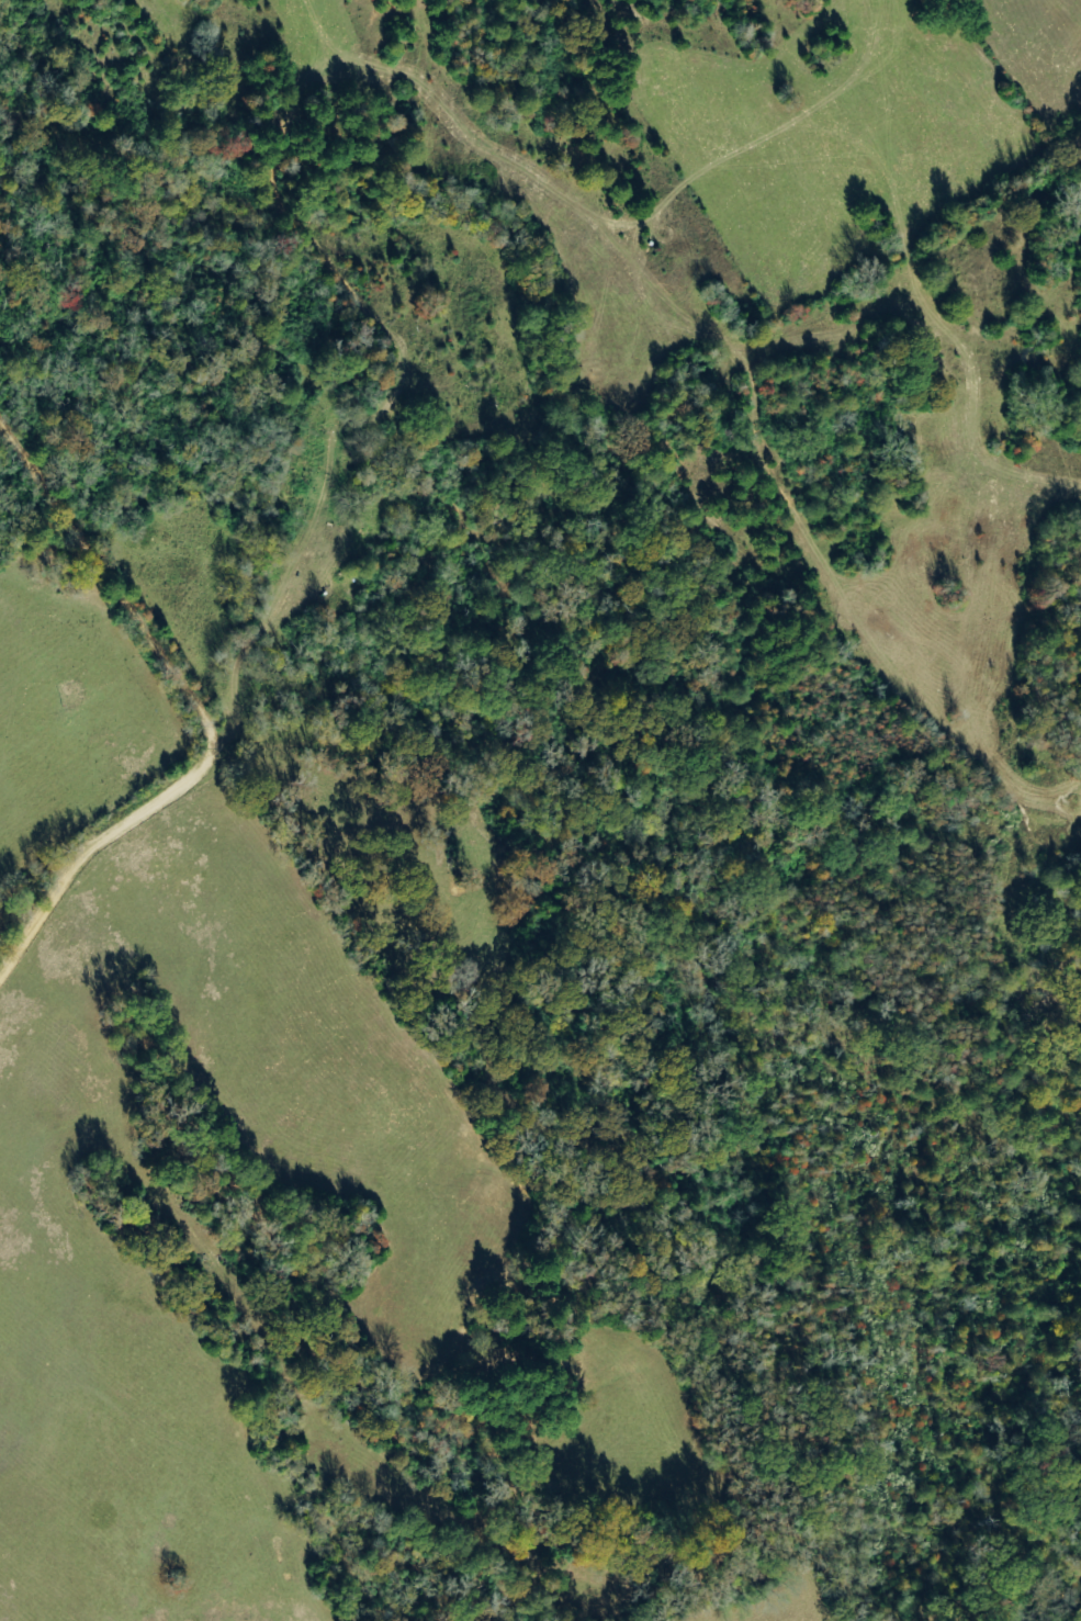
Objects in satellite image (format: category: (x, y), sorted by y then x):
road: (145, 732)
road: (164, 1420)

